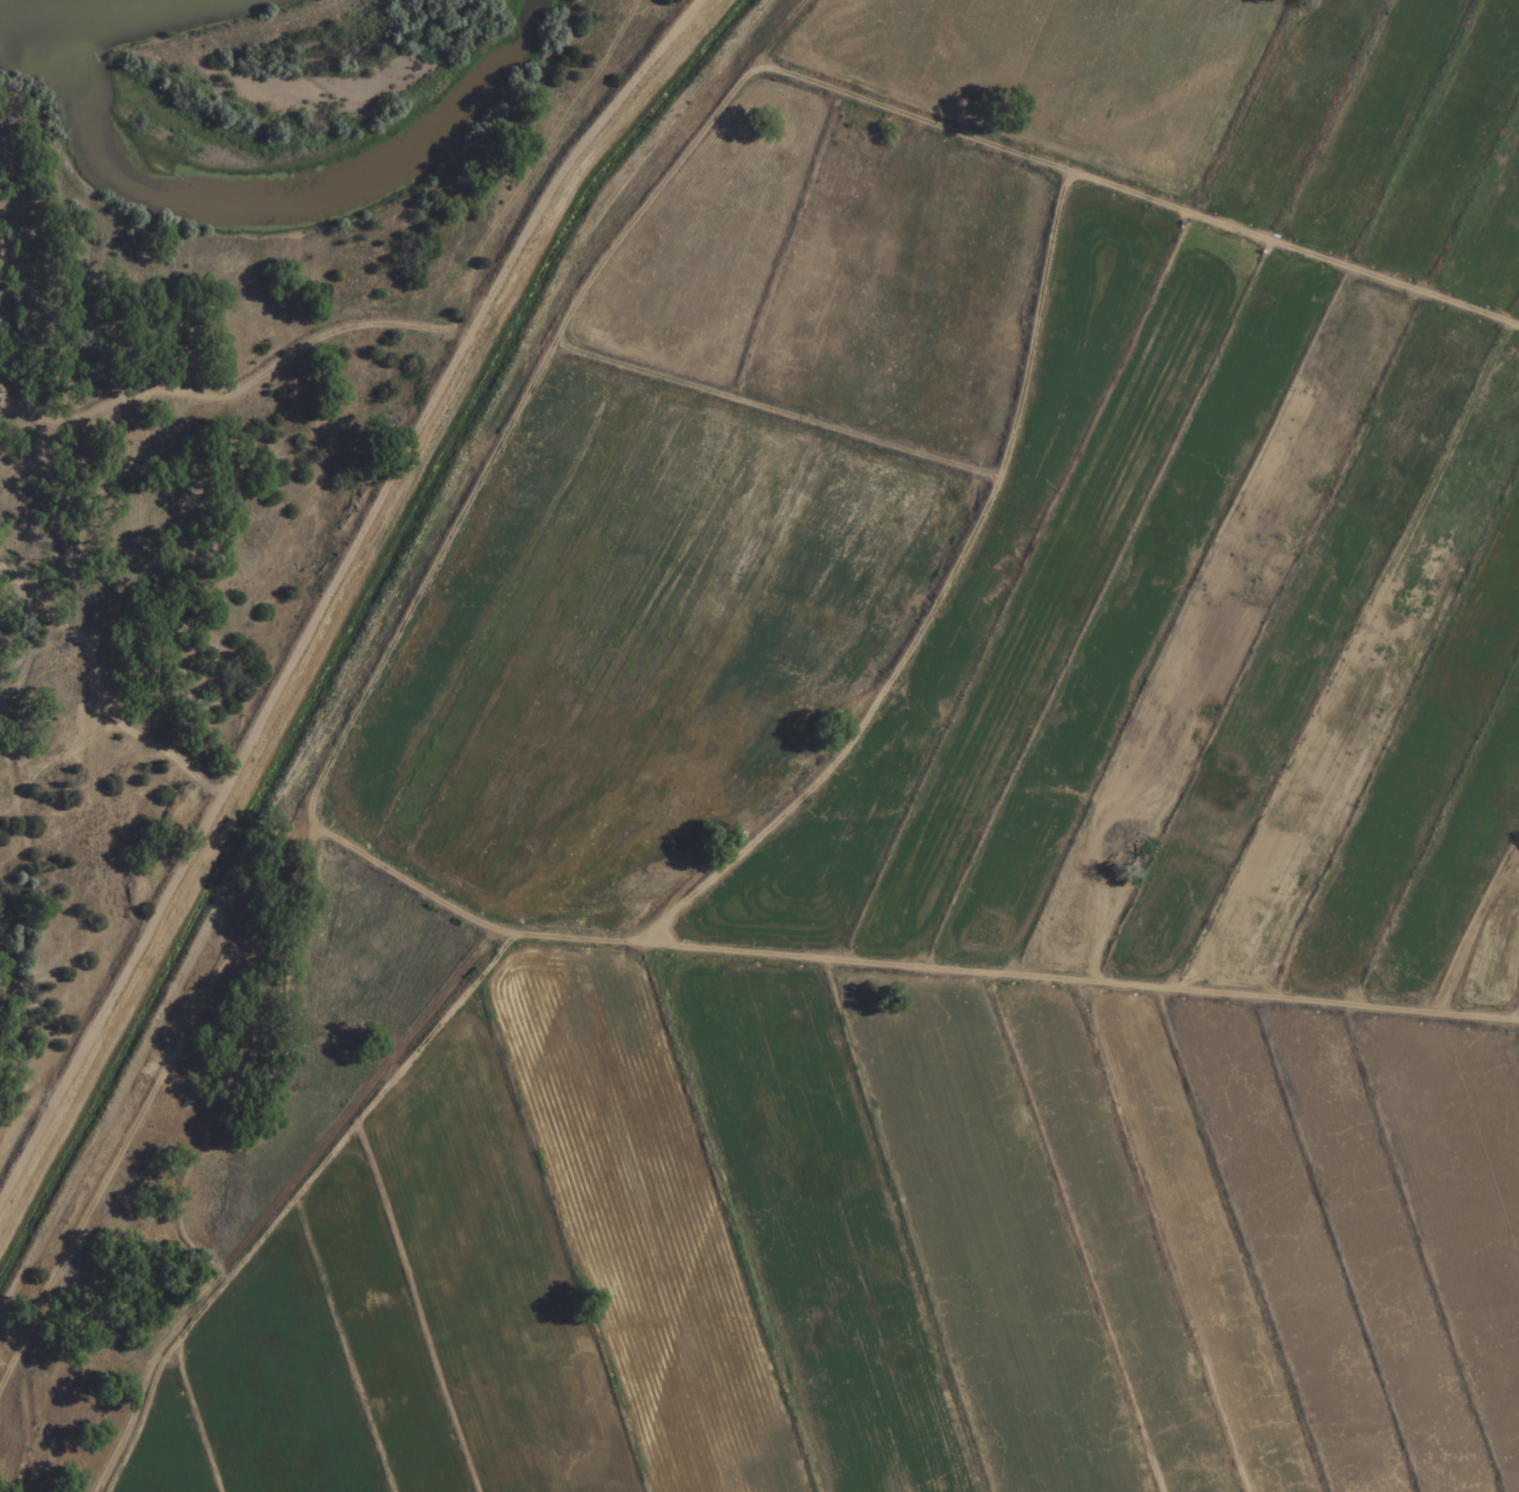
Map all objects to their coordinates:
river: (19, 2)

